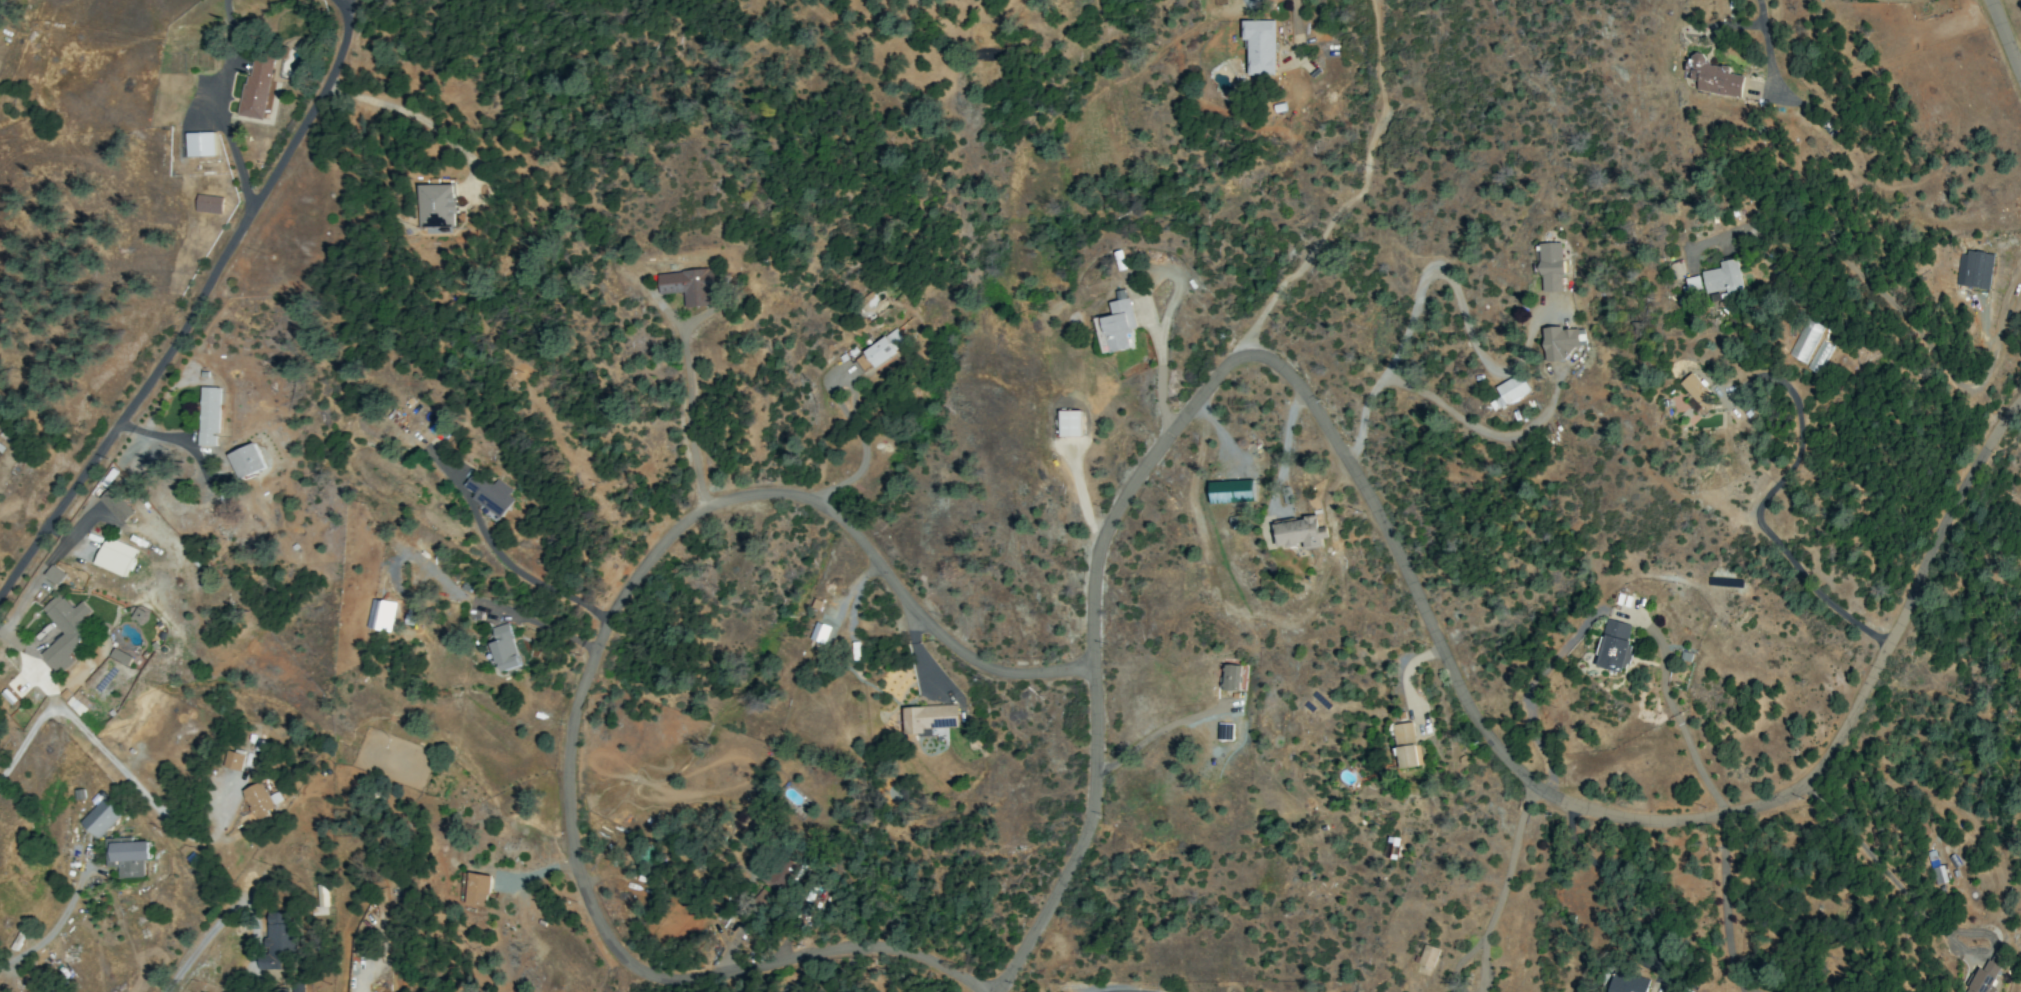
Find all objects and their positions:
road: (343, 4)
road: (1296, 25)
road: (2005, 37)
road: (1768, 44)
building: (1259, 46)
road: (2019, 66)
building: (1713, 77)
building: (255, 88)
road: (414, 117)
building: (200, 144)
road: (1358, 191)
building: (208, 204)
building: (437, 205)
building: (1550, 267)
building: (1977, 269)
road: (1432, 270)
building: (1724, 279)
building: (1691, 284)
building: (690, 285)
road: (198, 301)
road: (1891, 309)
building: (1116, 327)
building: (1804, 340)
building: (1560, 342)
building: (884, 347)
building: (862, 362)
building: (1511, 388)
building: (1696, 390)
building: (208, 416)
road: (691, 416)
building: (1069, 423)
road: (1480, 428)
road: (176, 441)
road: (861, 442)
building: (246, 461)
building: (1231, 491)
building: (489, 495)
road: (1763, 500)
building: (115, 505)
building: (1299, 532)
road: (66, 542)
building: (114, 556)
building: (54, 575)
road: (536, 582)
building: (137, 614)
building: (381, 615)
building: (64, 630)
building: (819, 632)
building: (1614, 645)
building: (505, 648)
road: (1091, 655)
building: (120, 656)
road: (34, 667)
building: (1231, 677)
road: (590, 680)
building: (77, 703)
building: (928, 717)
road: (1675, 719)
road: (82, 731)
building: (1224, 731)
road: (1159, 732)
building: (1405, 745)
building: (232, 760)
building: (260, 800)
building: (100, 815)
road: (1625, 818)
building: (126, 856)
road: (1878, 864)
building: (783, 874)
building: (1939, 874)
road: (1605, 877)
road: (1503, 888)
building: (477, 889)
building: (764, 898)
building: (320, 901)
road: (1723, 903)
road: (59, 922)
building: (276, 939)
road: (199, 944)
building: (1427, 956)
building: (1983, 976)
building: (1629, 983)
building: (294, 988)
building: (47, 989)
road: (1736, 991)
road: (1741, 991)

